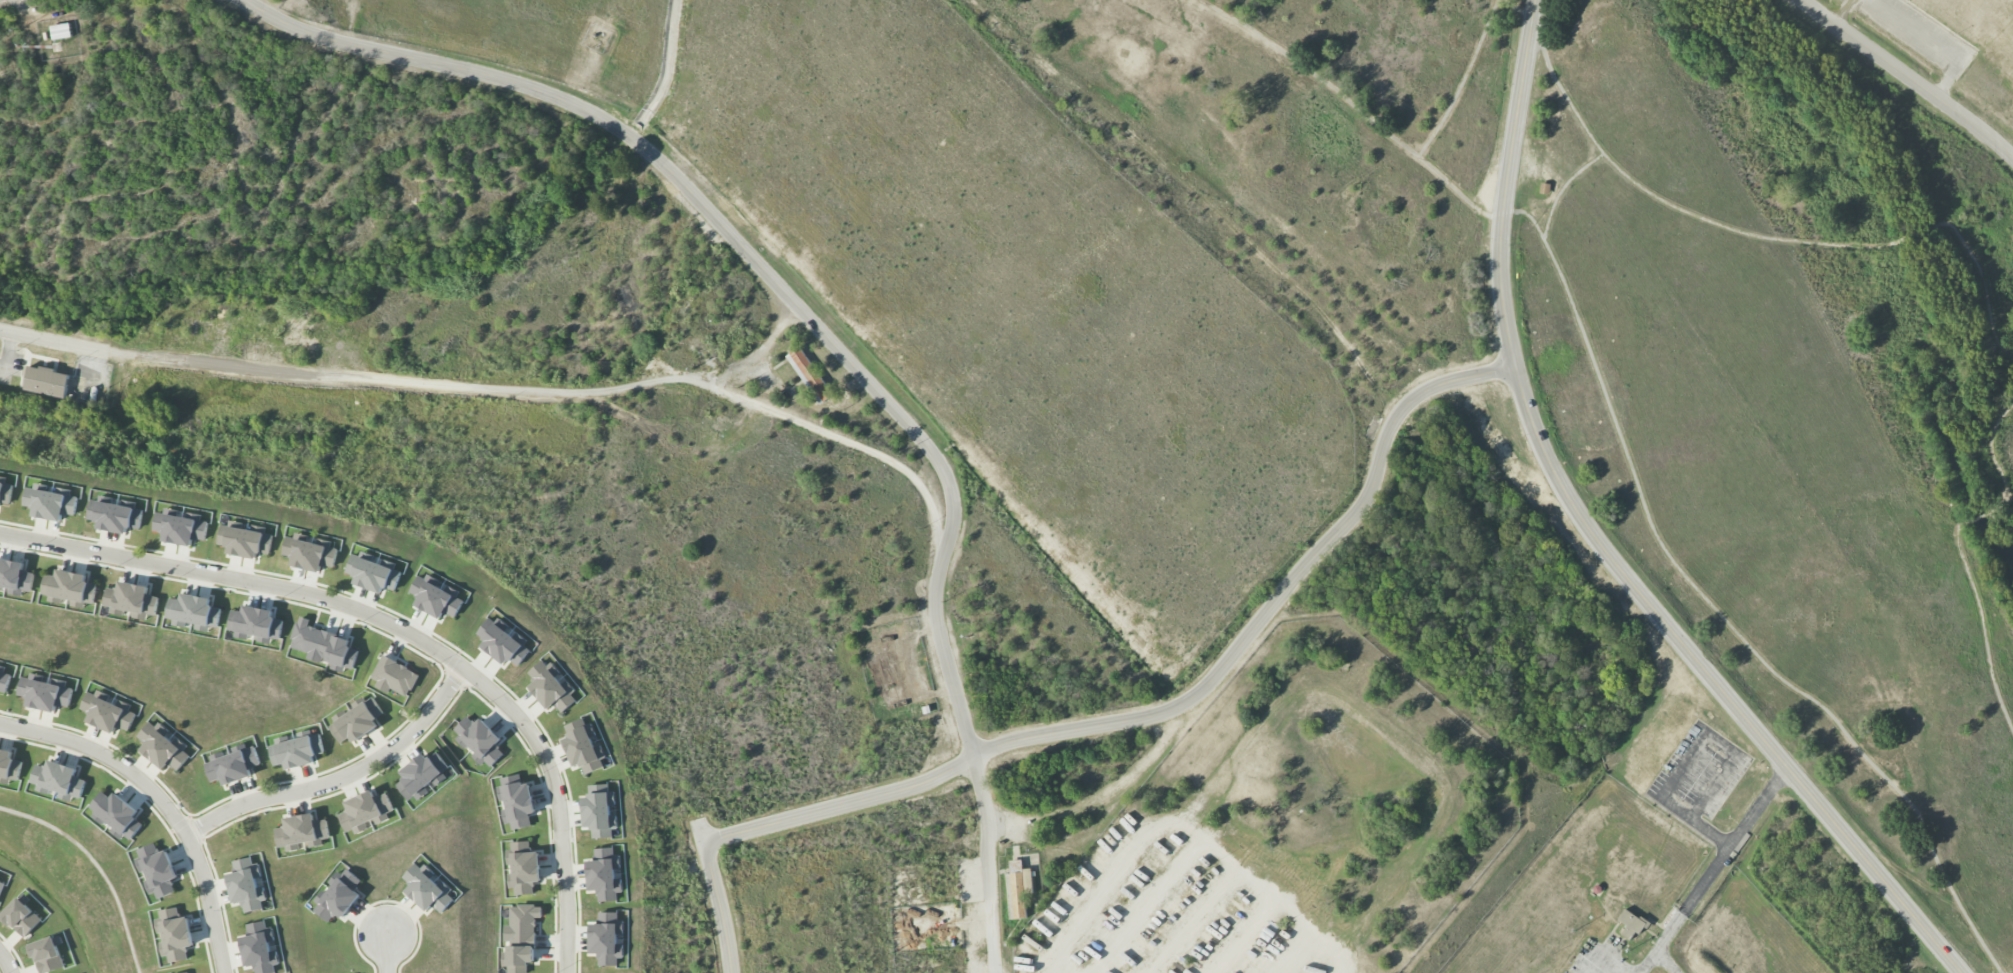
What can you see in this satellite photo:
road: (1518, 9)
building: (61, 31)
airport: (1956, 41)
road: (1904, 78)
road: (1462, 81)
road: (1353, 106)
road: (1562, 189)
road: (1670, 204)
road: (1918, 233)
road: (1983, 283)
road: (824, 335)
road: (54, 340)
building: (809, 375)
building: (45, 382)
road: (564, 392)
road: (1993, 455)
building: (5, 492)
building: (116, 516)
road: (1979, 516)
building: (180, 528)
building: (245, 540)
road: (1597, 541)
building: (310, 553)
building: (373, 574)
building: (15, 577)
building: (69, 587)
building: (436, 597)
building: (132, 600)
road: (1715, 610)
building: (193, 612)
building: (256, 623)
road: (1983, 628)
road: (401, 629)
building: (311, 640)
building: (342, 654)
building: (394, 677)
building: (4, 680)
building: (550, 687)
building: (45, 693)
road: (1179, 705)
building: (107, 713)
building: (357, 722)
building: (479, 740)
building: (163, 747)
building: (297, 751)
road: (1693, 752)
building: (232, 764)
building: (9, 765)
building: (421, 774)
parking lot: (1698, 775)
road: (342, 779)
building: (58, 780)
road: (163, 802)
building: (517, 804)
road: (1758, 807)
building: (365, 812)
building: (599, 812)
building: (116, 815)
road: (1186, 830)
building: (301, 832)
road: (97, 866)
building: (522, 867)
building: (156, 871)
building: (604, 875)
building: (246, 885)
building: (1, 886)
building: (427, 889)
building: (1017, 889)
road: (716, 896)
building: (338, 897)
road: (1684, 910)
building: (20, 917)
building: (1630, 925)
building: (174, 935)
building: (520, 938)
building: (606, 939)
building: (259, 948)
building: (47, 954)
road: (388, 955)
road: (5, 962)
road: (1665, 962)
road: (1037, 967)
road: (1043, 967)
building: (188, 972)

